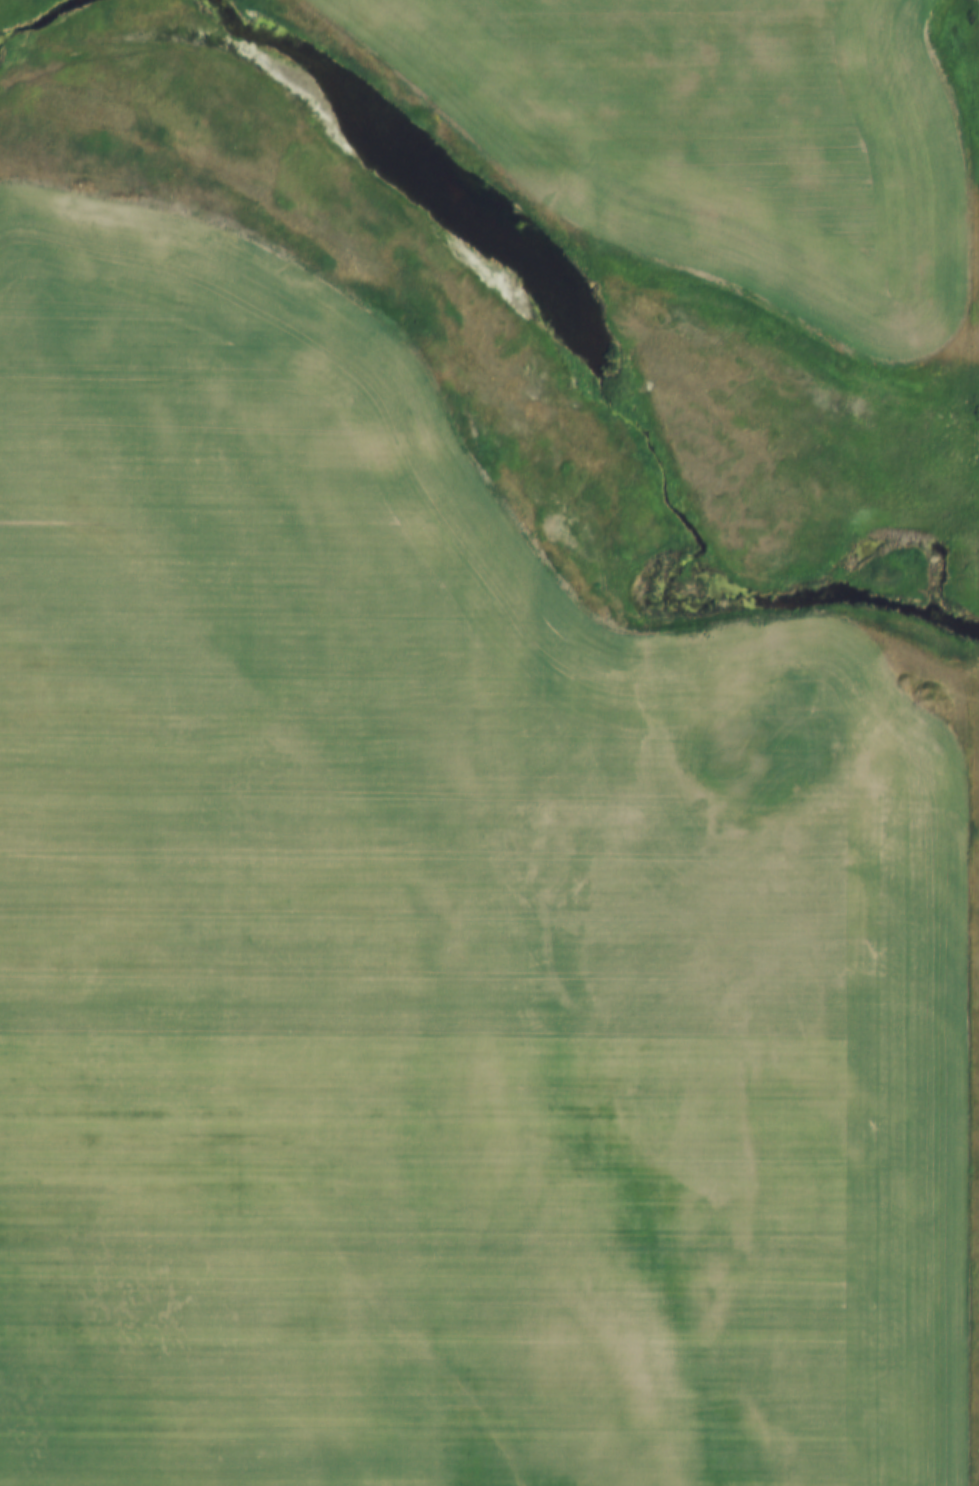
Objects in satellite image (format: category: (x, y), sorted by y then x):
road: (965, 164)

